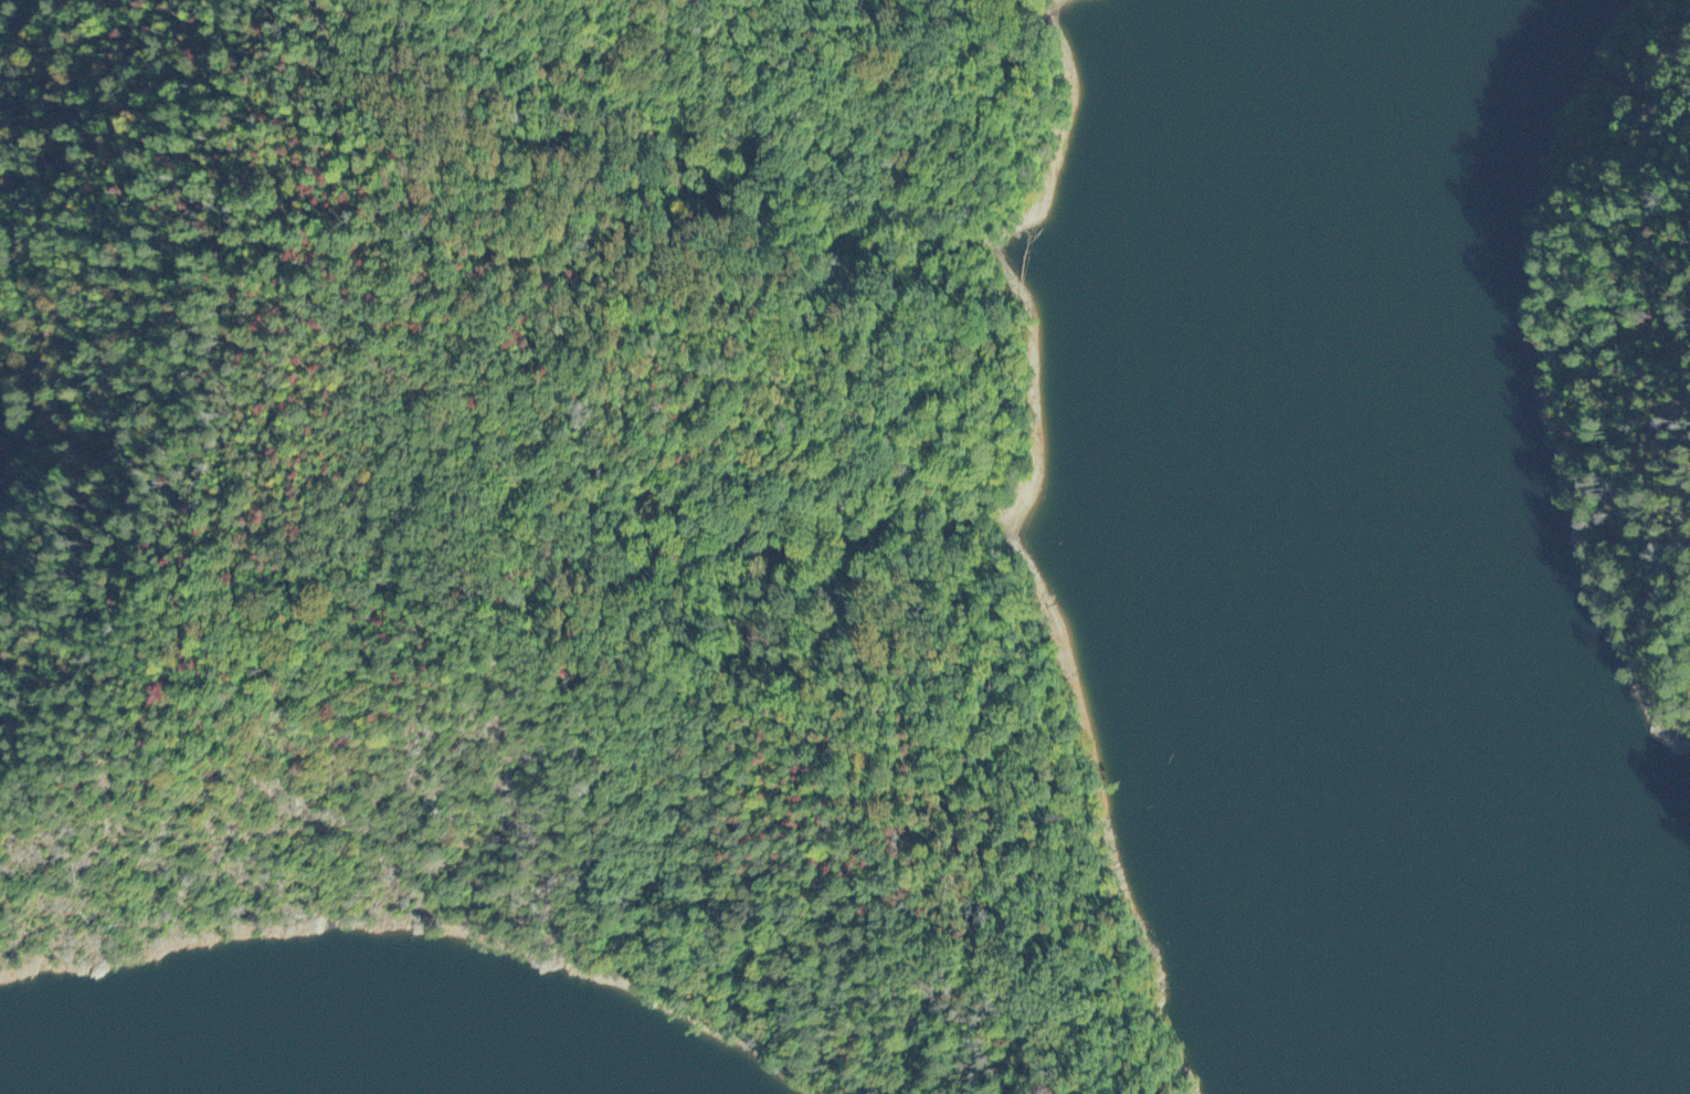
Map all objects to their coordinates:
river: (1323, 532)
river: (1520, 1070)

